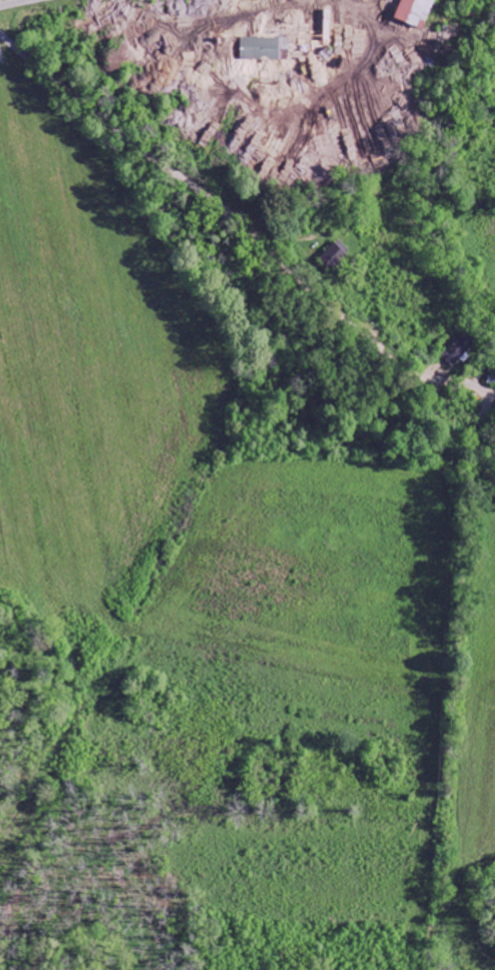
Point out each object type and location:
road: (7, 1)
building: (416, 12)
building: (266, 49)
road: (243, 224)
building: (335, 254)
building: (459, 350)

